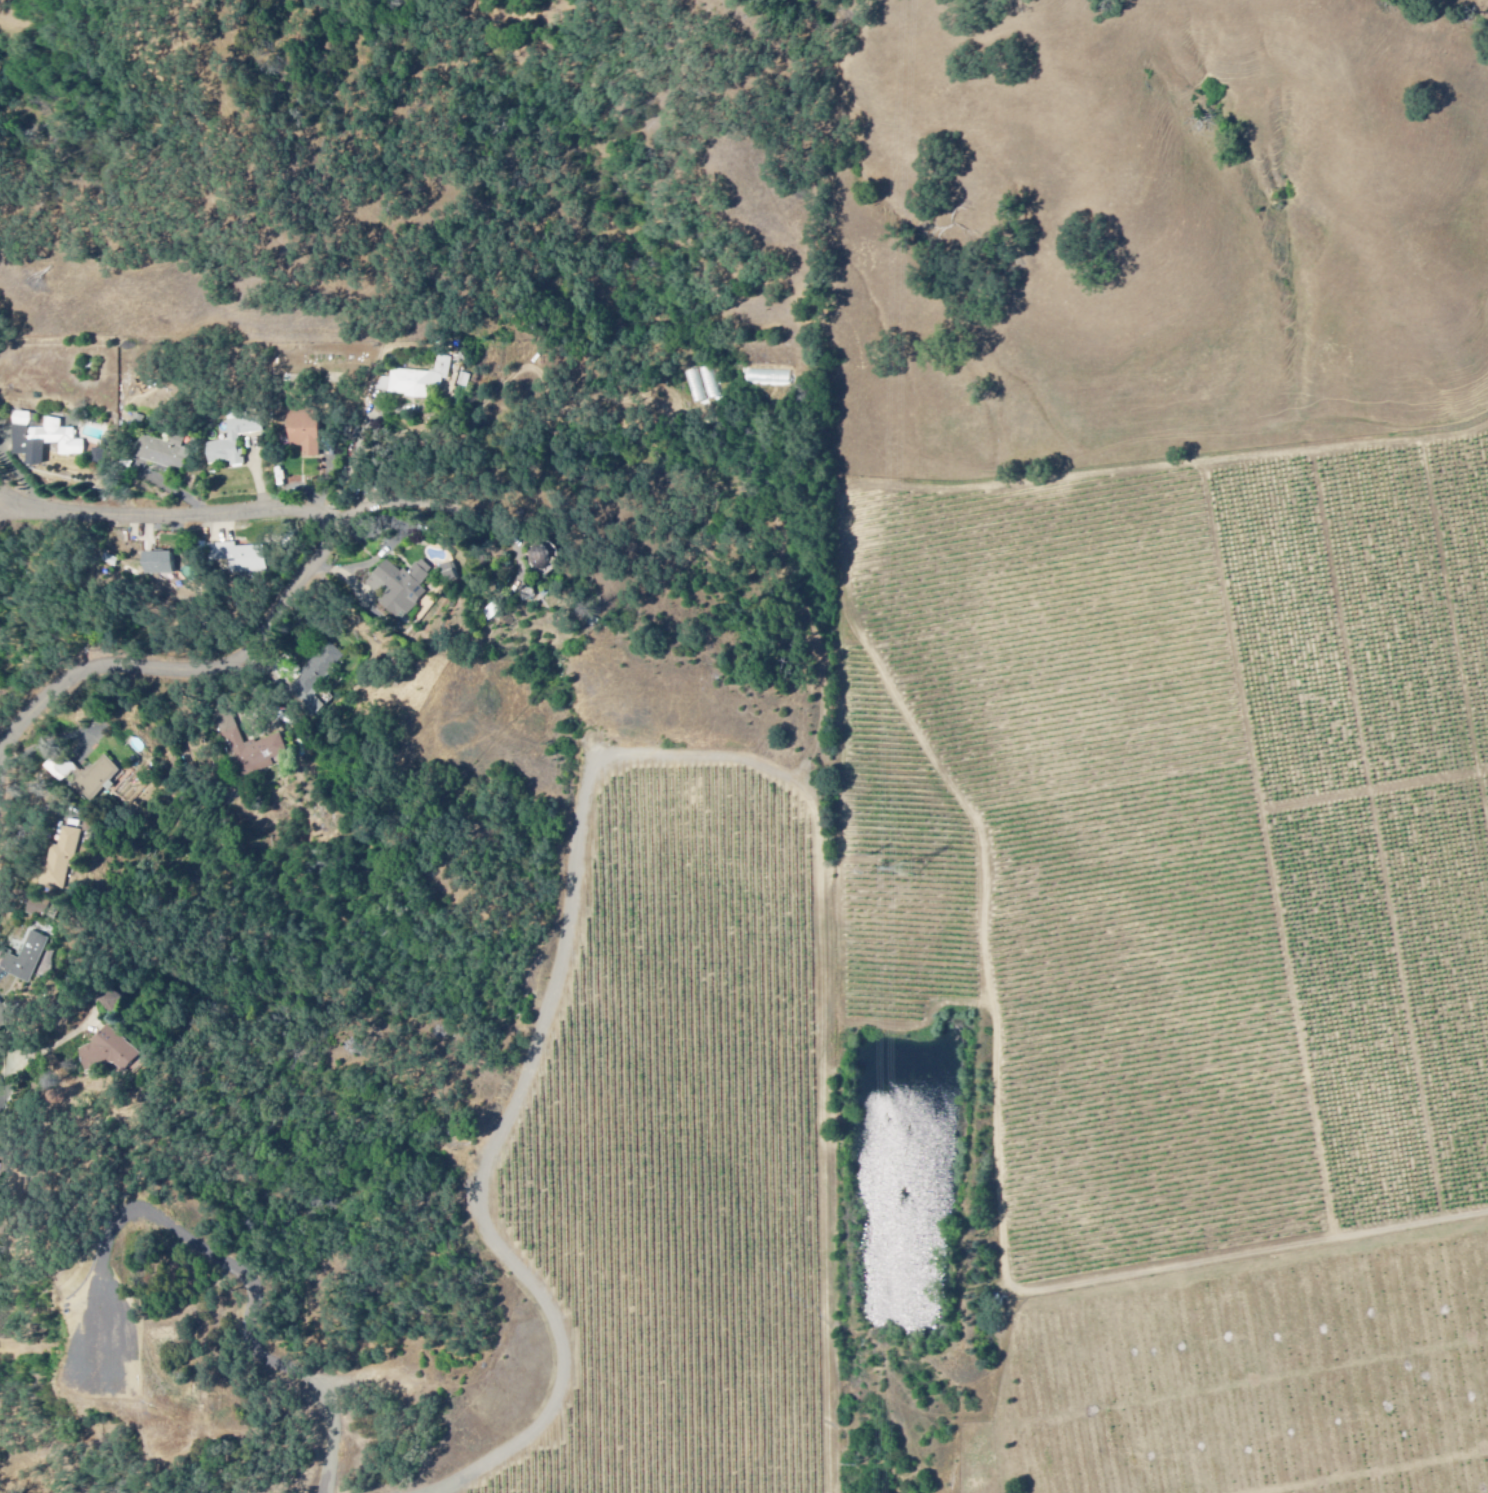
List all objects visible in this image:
building: (416, 380)
building: (305, 433)
building: (42, 440)
building: (234, 442)
building: (165, 453)
building: (239, 558)
building: (156, 564)
road: (315, 578)
building: (401, 588)
building: (317, 671)
building: (253, 749)
building: (97, 775)
building: (73, 862)
power tower: (908, 866)
building: (52, 909)
building: (38, 960)
building: (117, 1053)
building: (1, 1133)
building: (2, 1174)
road: (238, 1272)

